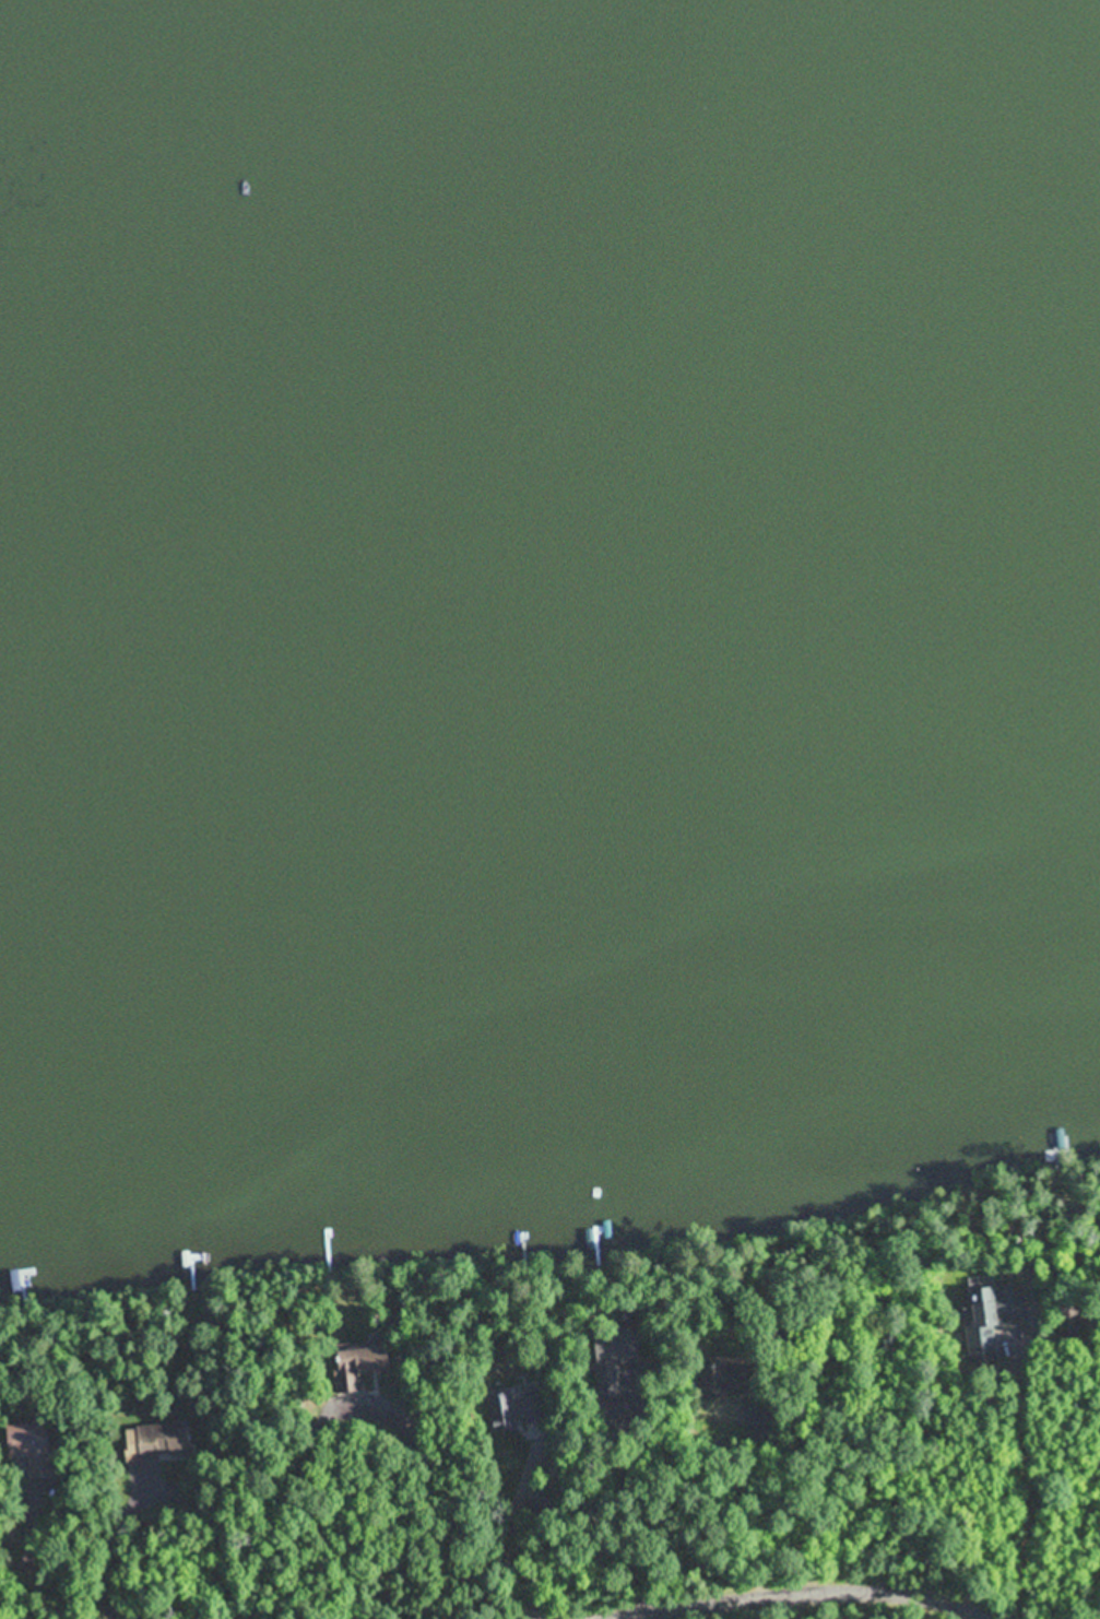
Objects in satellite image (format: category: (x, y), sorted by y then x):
building: (986, 1317)
road: (802, 1585)

